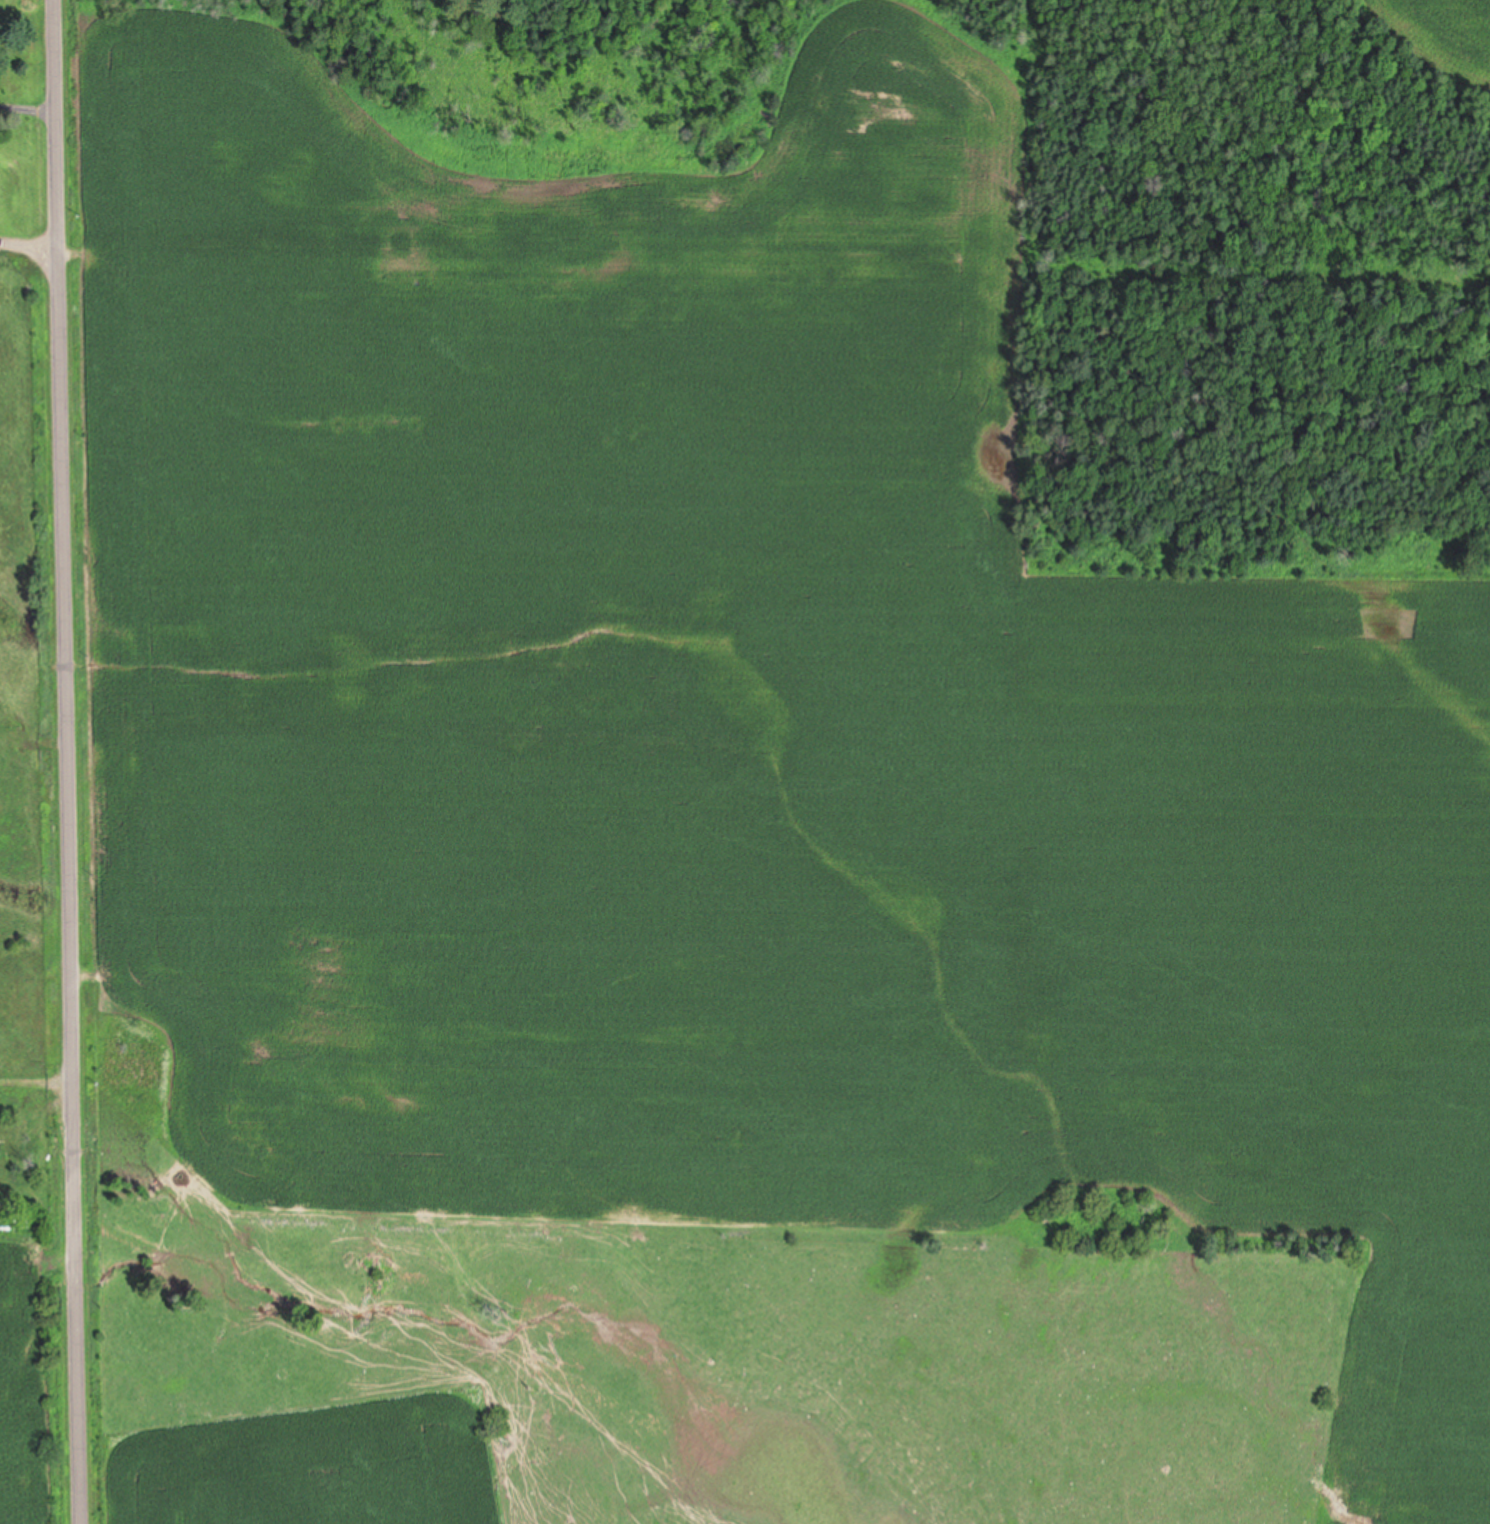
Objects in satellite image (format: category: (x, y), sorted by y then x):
road: (63, 762)
building: (7, 1149)

